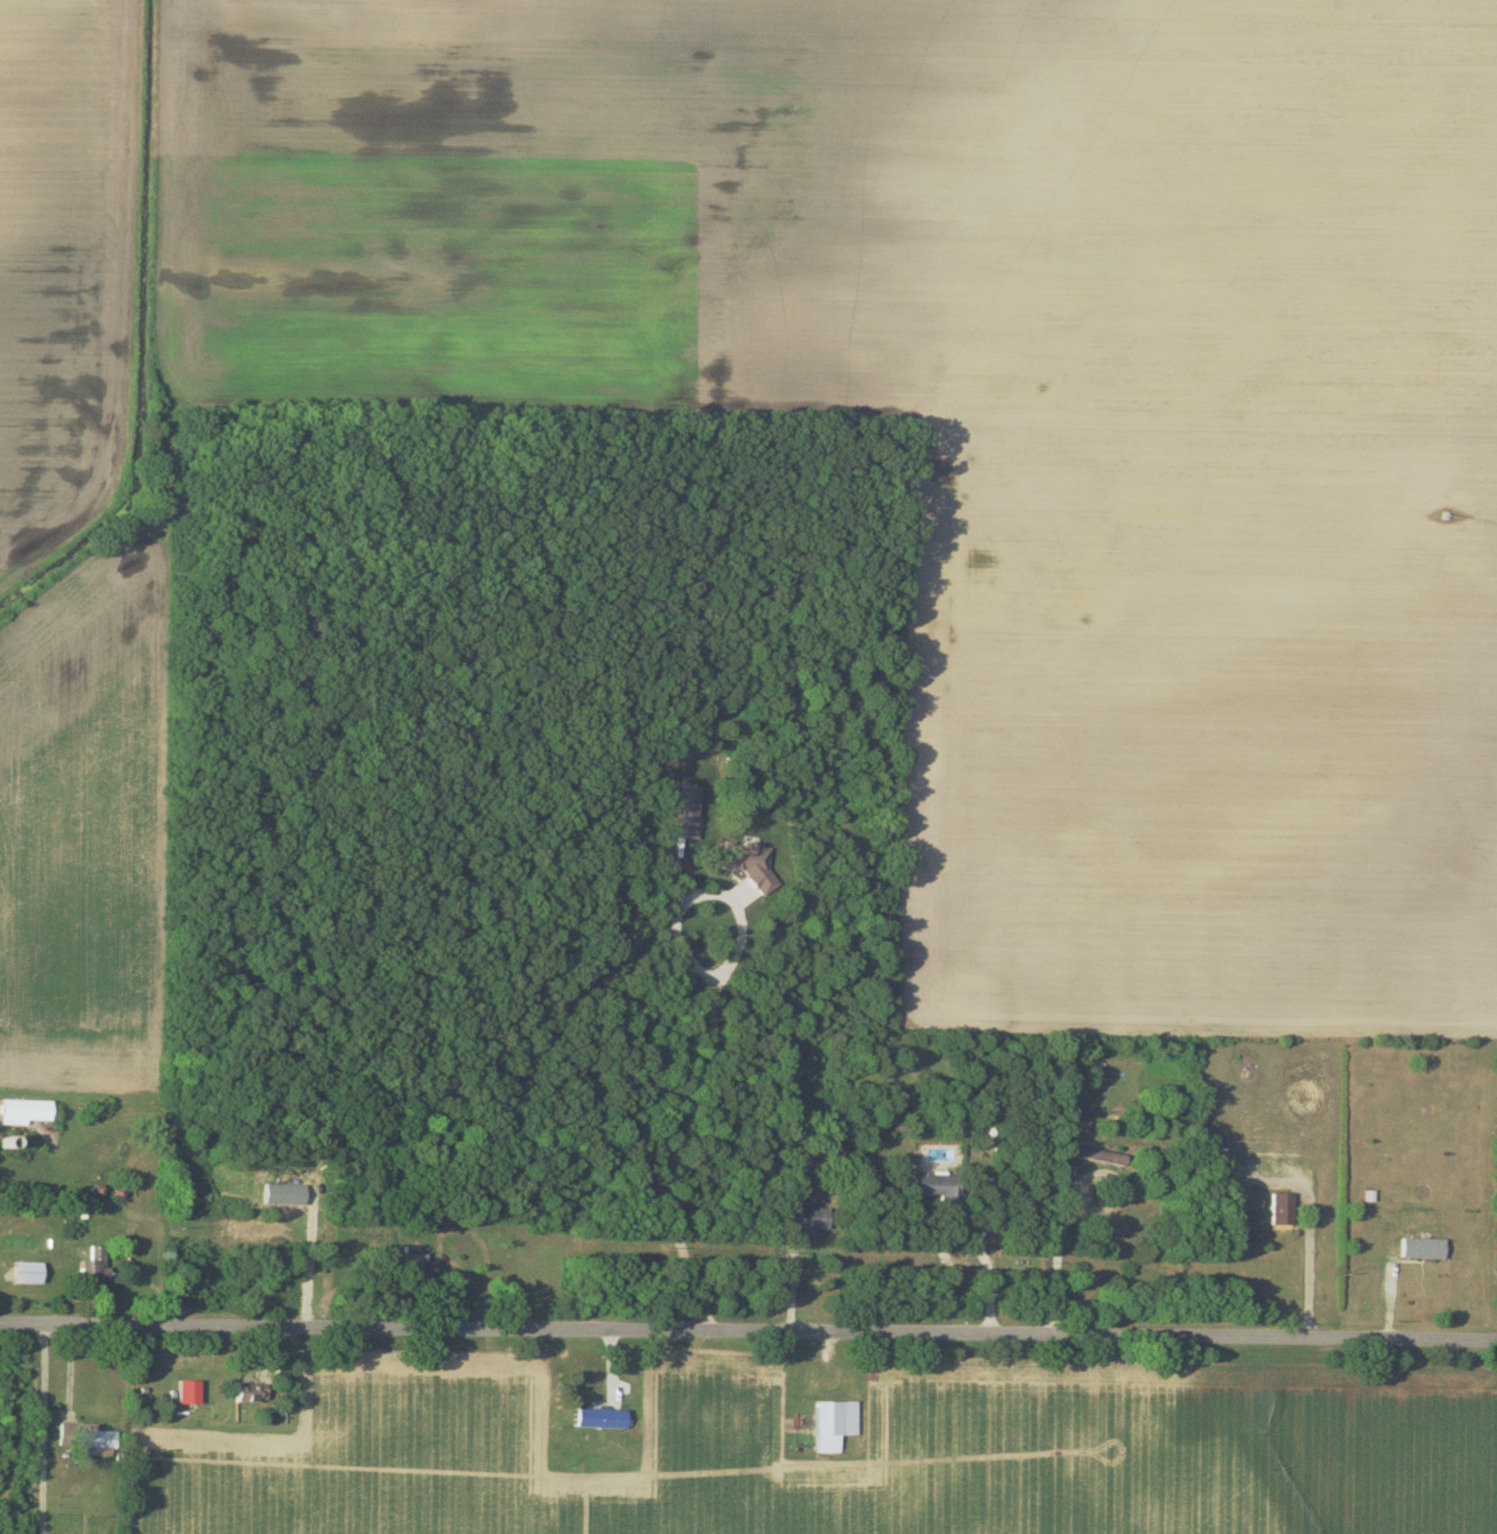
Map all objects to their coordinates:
road: (708, 1041)
road: (978, 1246)
road: (310, 1259)
road: (1060, 1264)
road: (1302, 1264)
road: (748, 1333)
road: (44, 1427)

